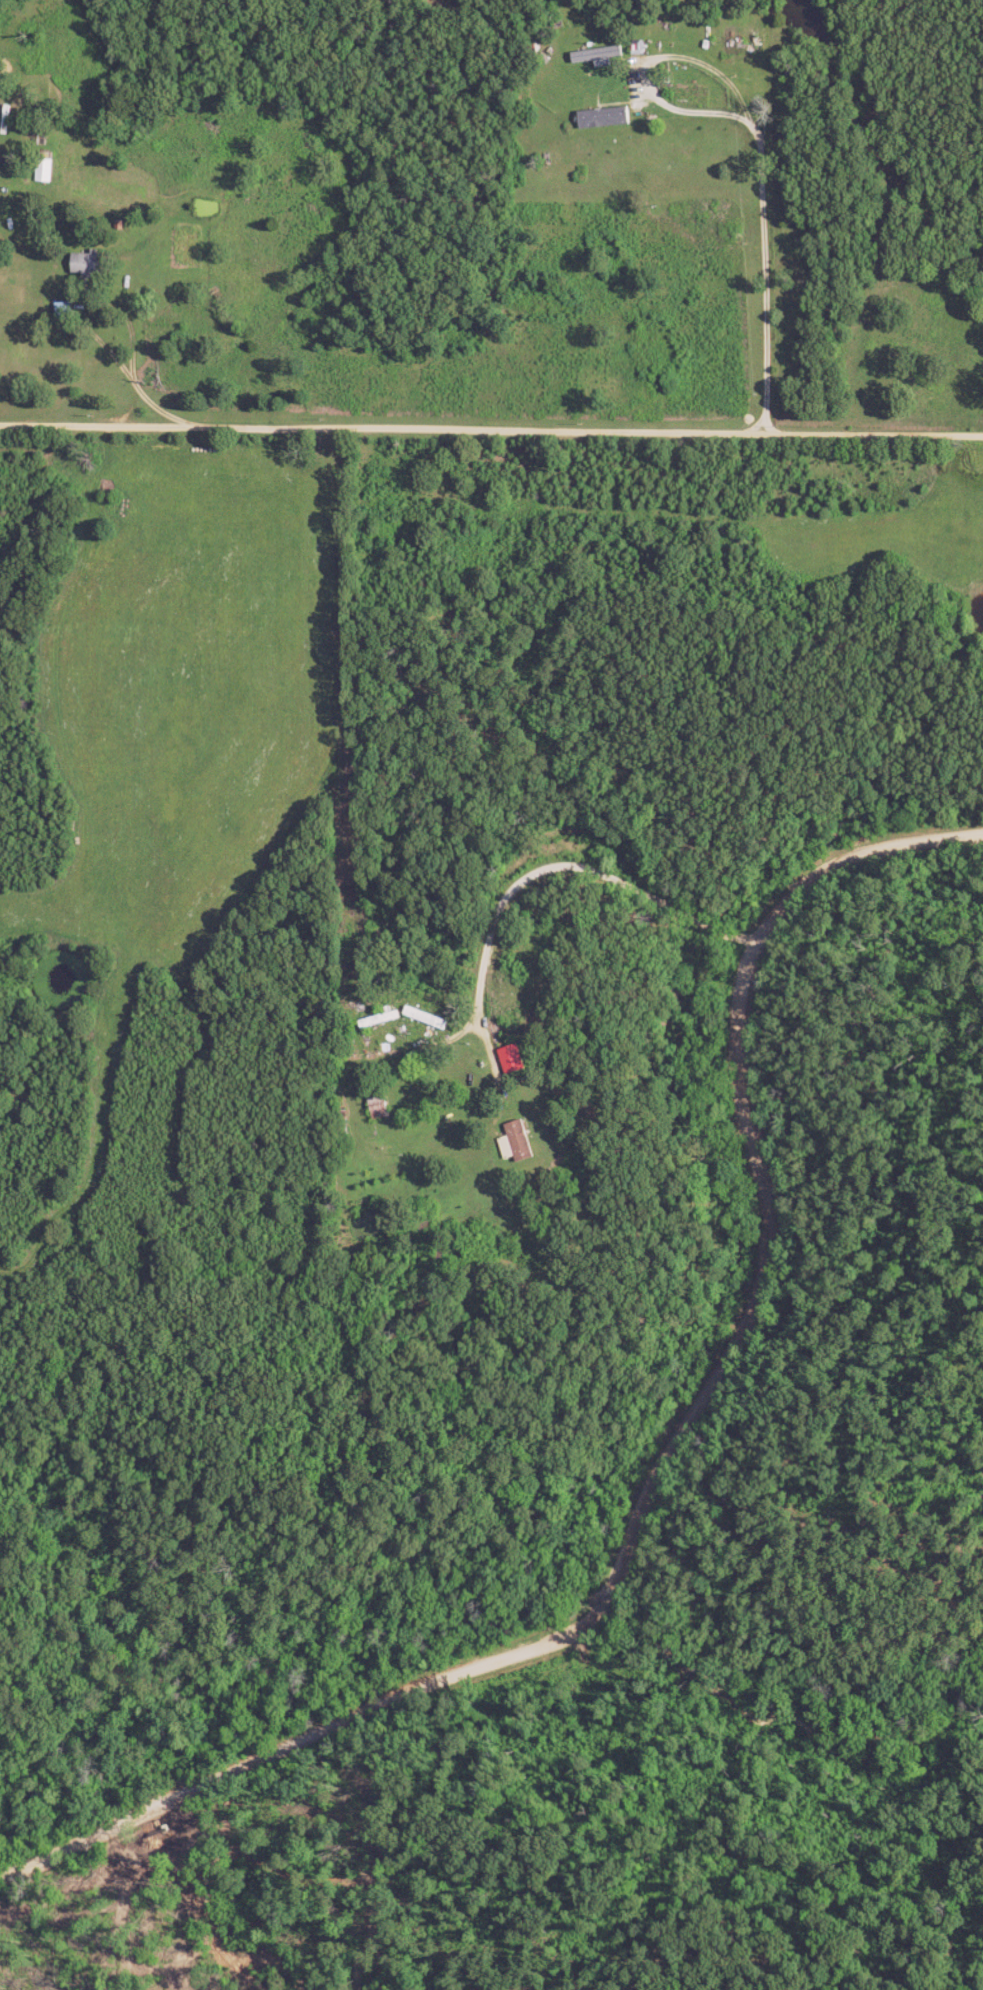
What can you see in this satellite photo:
road: (655, 55)
building: (605, 56)
building: (608, 118)
building: (91, 264)
road: (766, 272)
road: (138, 358)
road: (382, 428)
road: (874, 432)
road: (540, 833)
building: (515, 1059)
building: (517, 1147)
road: (666, 1464)

